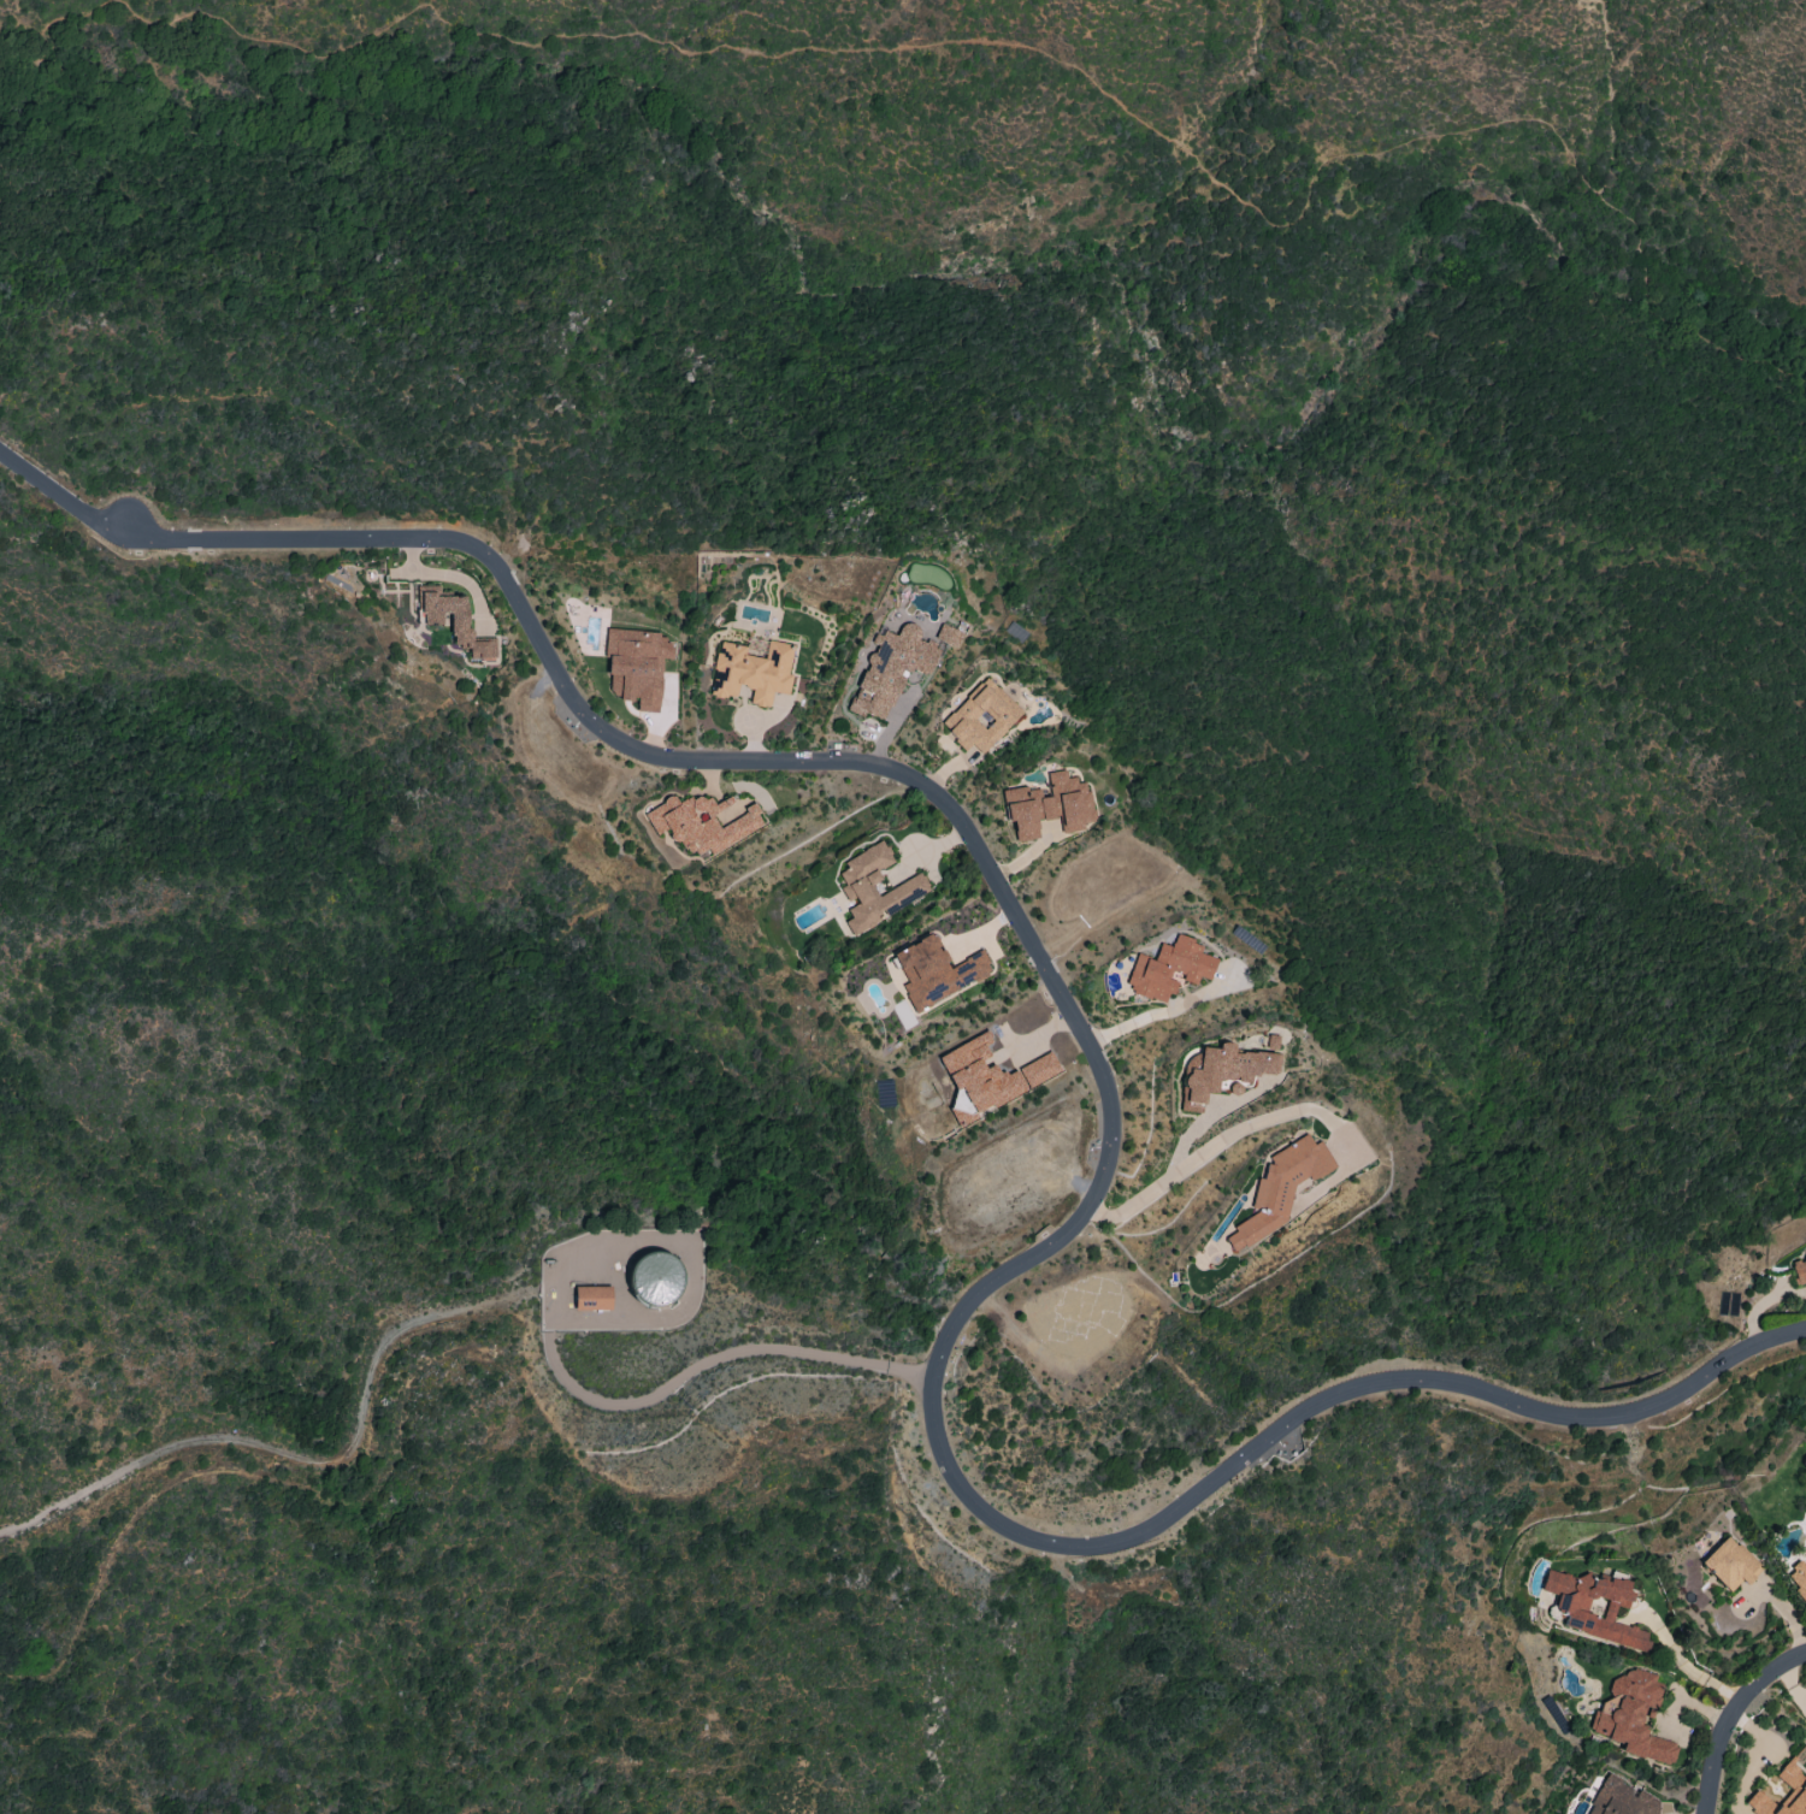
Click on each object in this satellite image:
road: (1001, 42)
road: (59, 497)
building: (455, 622)
building: (949, 636)
building: (636, 666)
building: (891, 668)
building: (751, 672)
building: (980, 716)
building: (1047, 805)
building: (701, 822)
building: (908, 890)
building: (1168, 968)
building: (936, 971)
road: (1156, 1012)
building: (1222, 1071)
building: (992, 1073)
road: (1220, 1139)
road: (1114, 1151)
building: (1280, 1188)
building: (1799, 1270)
building: (654, 1278)
building: (591, 1298)
road: (724, 1355)
road: (297, 1456)
building: (1729, 1565)
building: (1799, 1578)
building: (1593, 1607)
road: (1684, 1664)
building: (1631, 1716)
road: (1734, 1719)
building: (1794, 1783)
building: (1619, 1798)

